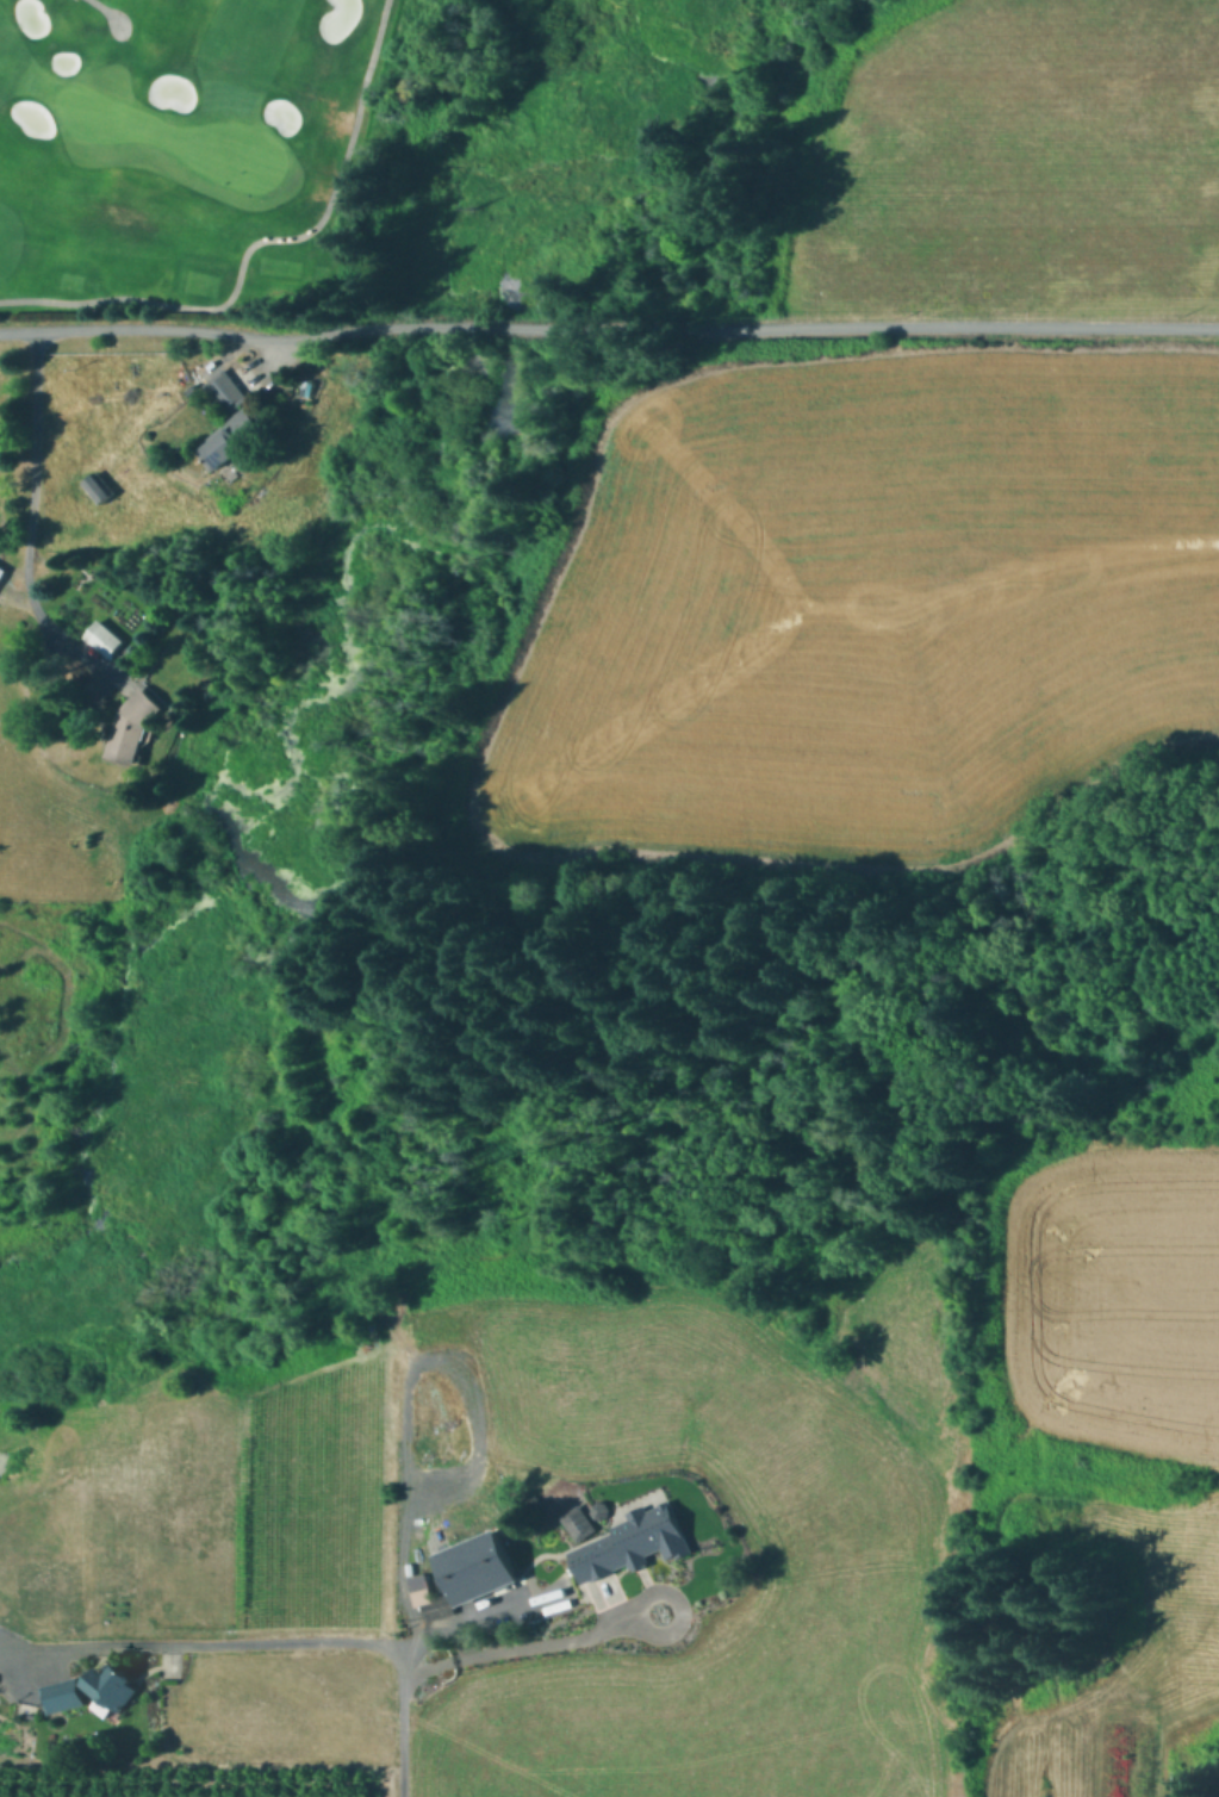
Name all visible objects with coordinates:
road: (106, 10)
park: (609, 158)
road: (255, 240)
road: (608, 328)
building: (189, 388)
building: (226, 391)
building: (234, 437)
building: (99, 487)
road: (30, 527)
building: (0, 567)
building: (2, 577)
crop: (853, 628)
building: (106, 638)
building: (135, 725)
crop: (1117, 1295)
road: (408, 1385)
building: (535, 1503)
building: (599, 1509)
building: (581, 1524)
building: (633, 1544)
crop: (848, 1544)
building: (473, 1581)
road: (658, 1588)
building: (435, 1603)
road: (303, 1643)
road: (518, 1647)
building: (112, 1687)
building: (66, 1695)
road: (402, 1735)

